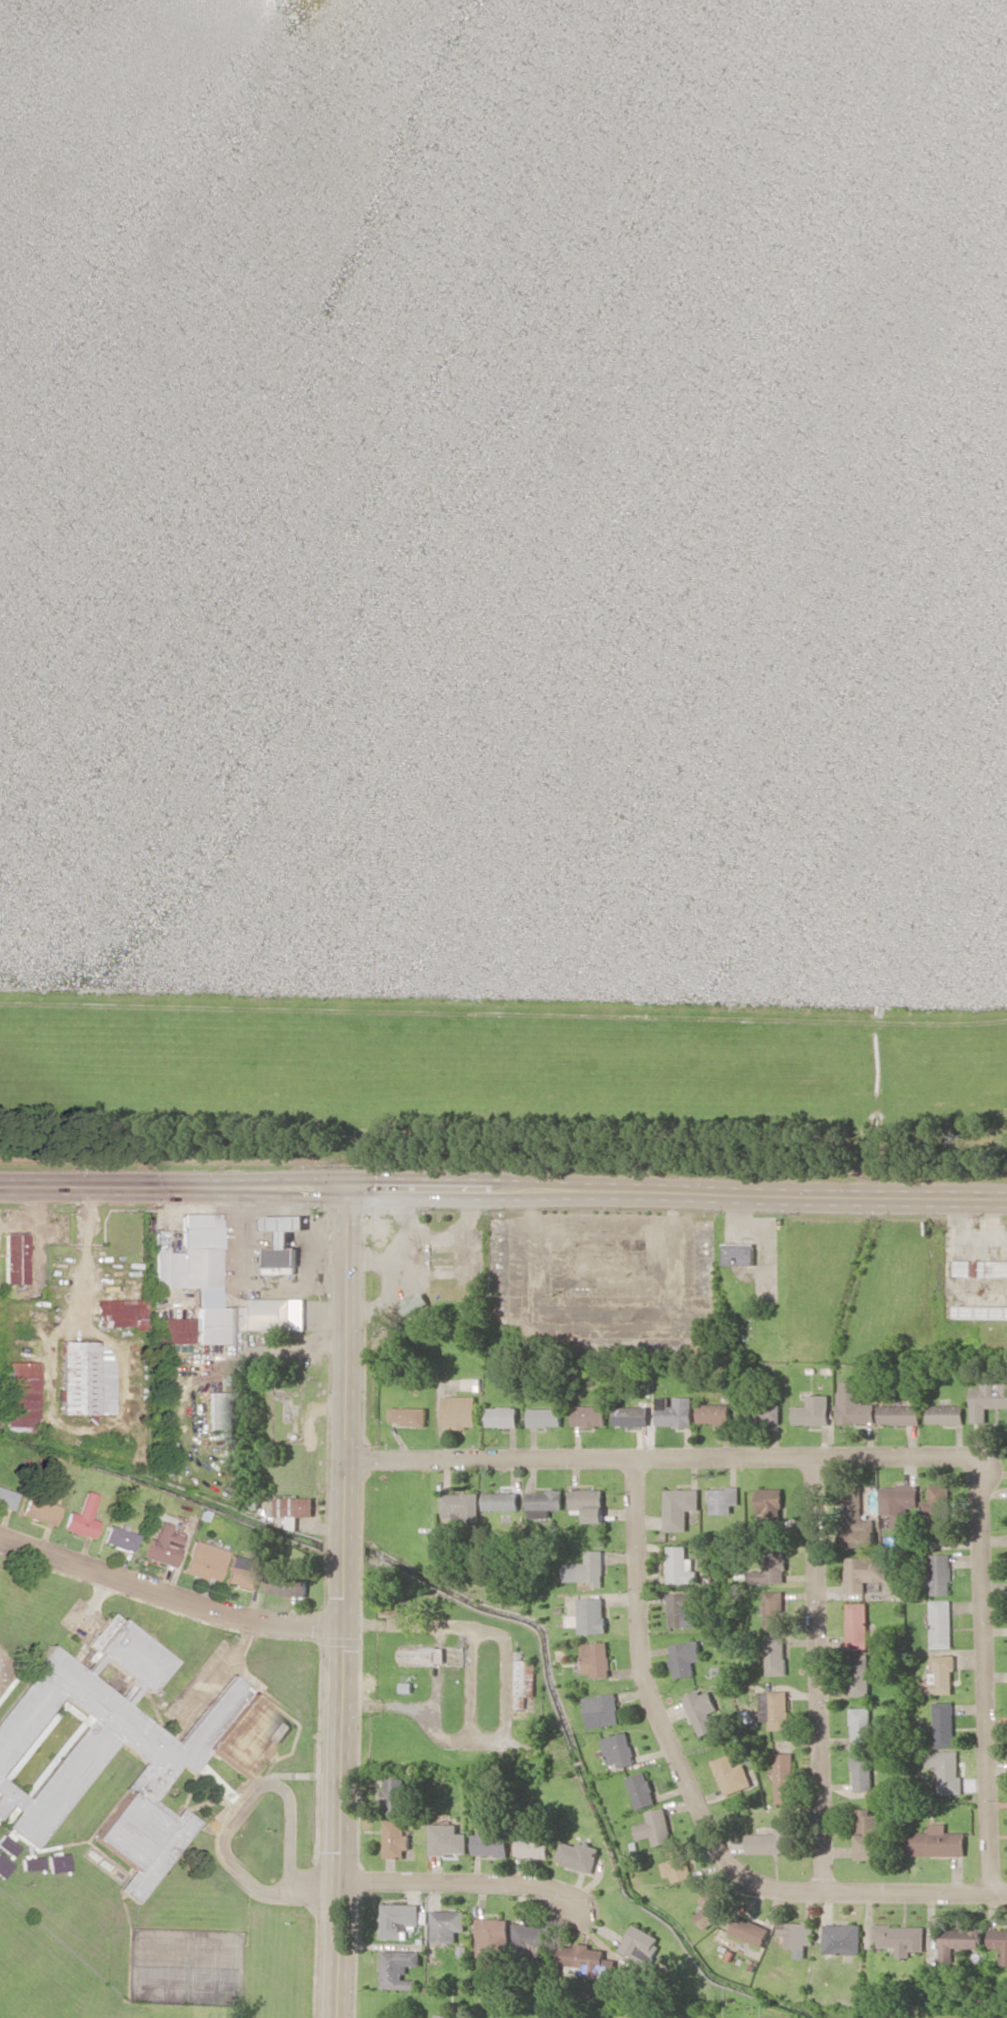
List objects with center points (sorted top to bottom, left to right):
road: (503, 1189)
building: (738, 1253)
building: (14, 1258)
building: (981, 1267)
building: (198, 1277)
building: (415, 1303)
building: (120, 1313)
building: (275, 1313)
building: (174, 1330)
building: (84, 1377)
building: (21, 1393)
building: (988, 1399)
building: (853, 1404)
building: (217, 1410)
building: (459, 1411)
building: (674, 1411)
building: (812, 1411)
building: (714, 1413)
building: (770, 1413)
building: (899, 1414)
building: (945, 1414)
building: (408, 1415)
building: (589, 1415)
building: (631, 1415)
building: (501, 1416)
building: (544, 1416)
road: (877, 1456)
building: (7, 1498)
building: (723, 1500)
building: (501, 1501)
building: (544, 1502)
building: (589, 1503)
building: (898, 1503)
building: (463, 1505)
building: (295, 1506)
building: (679, 1507)
building: (768, 1507)
building: (937, 1507)
building: (39, 1509)
building: (854, 1509)
building: (81, 1517)
building: (118, 1537)
building: (857, 1539)
building: (162, 1546)
building: (202, 1561)
building: (680, 1565)
building: (587, 1569)
building: (864, 1571)
building: (243, 1572)
building: (767, 1573)
building: (940, 1573)
building: (289, 1585)
road: (168, 1596)
road: (343, 1602)
building: (684, 1609)
building: (775, 1609)
building: (589, 1616)
building: (940, 1623)
building: (857, 1624)
building: (424, 1655)
building: (777, 1656)
building: (685, 1657)
building: (596, 1658)
road: (819, 1673)
building: (859, 1674)
building: (939, 1676)
building: (525, 1682)
building: (776, 1708)
building: (602, 1710)
building: (702, 1710)
building: (943, 1724)
building: (861, 1725)
building: (619, 1749)
building: (53, 1756)
building: (946, 1770)
building: (862, 1771)
building: (730, 1774)
building: (784, 1777)
building: (642, 1789)
building: (396, 1794)
road: (695, 1801)
building: (655, 1827)
building: (867, 1834)
building: (397, 1839)
building: (448, 1839)
building: (491, 1840)
building: (771, 1841)
building: (938, 1841)
building: (7, 1844)
building: (534, 1846)
building: (578, 1855)
building: (29, 1862)
building: (55, 1862)
building: (678, 1863)
building: (3, 1866)
road: (289, 1888)
building: (711, 1910)
building: (401, 1919)
building: (448, 1924)
building: (750, 1930)
building: (492, 1935)
building: (533, 1935)
building: (797, 1935)
building: (899, 1937)
building: (842, 1938)
building: (999, 1940)
building: (959, 1941)
building: (641, 1942)
building: (587, 1958)
building: (400, 1968)
building: (445, 2016)

